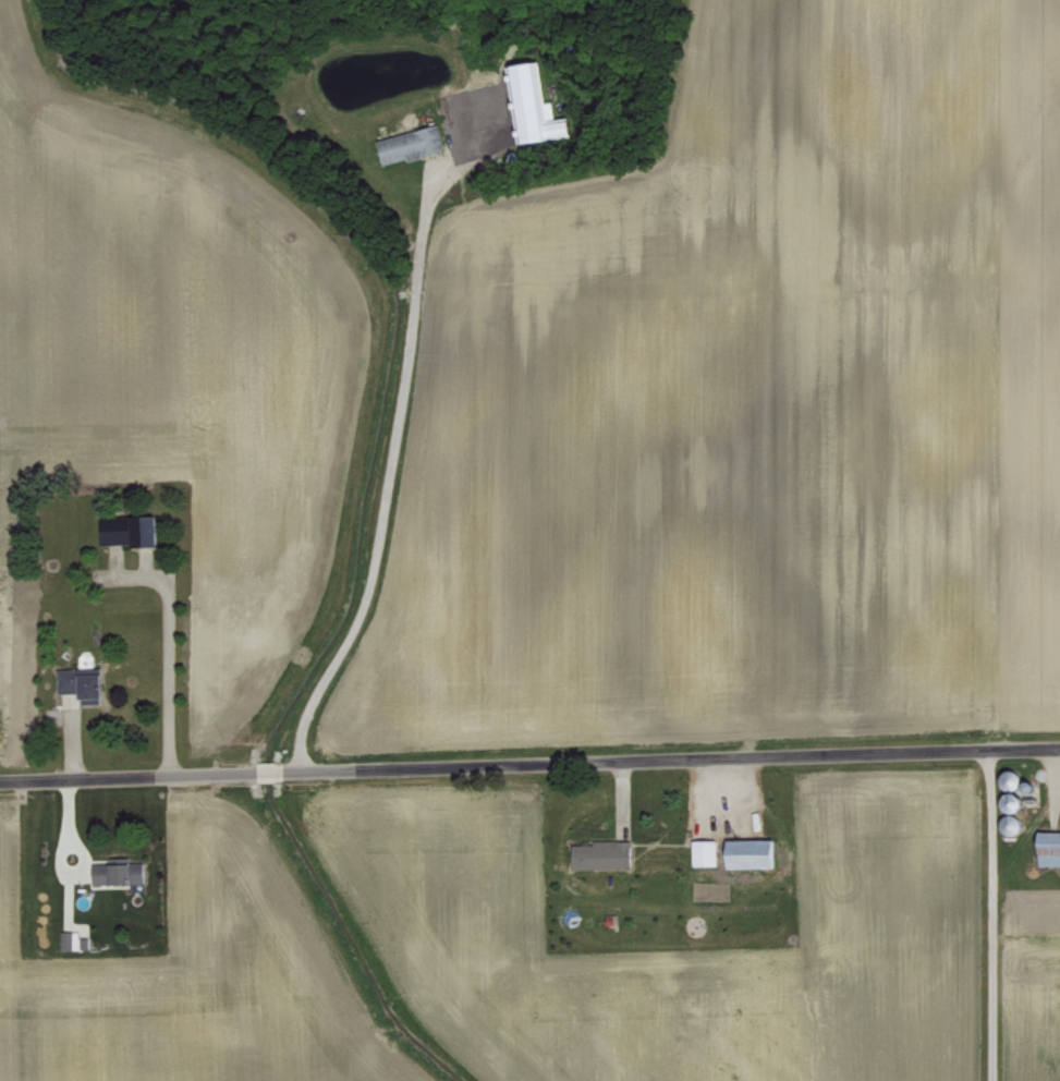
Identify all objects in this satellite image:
building: (537, 105)
building: (413, 143)
road: (984, 377)
road: (393, 447)
building: (132, 529)
road: (166, 664)
building: (83, 681)
road: (1059, 754)
road: (529, 764)
building: (1049, 847)
building: (707, 850)
building: (754, 851)
building: (604, 853)
building: (120, 871)
road: (986, 916)
building: (71, 938)

